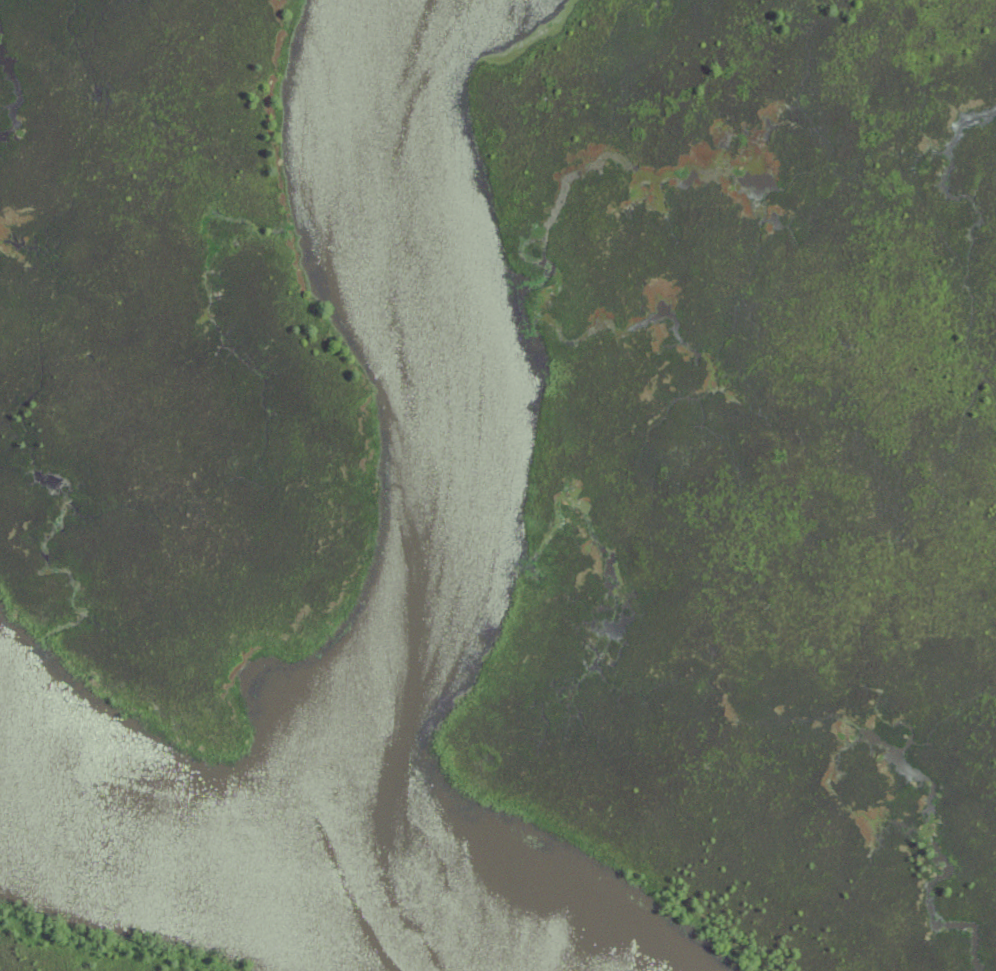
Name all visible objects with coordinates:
river: (248, 874)

